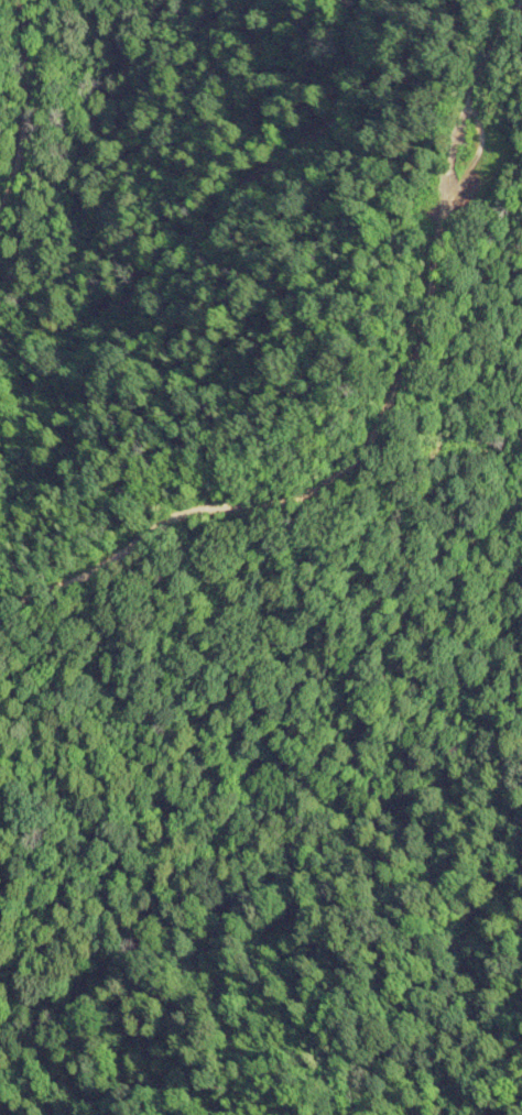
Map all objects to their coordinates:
road: (9, 111)
road: (235, 234)
road: (279, 517)

